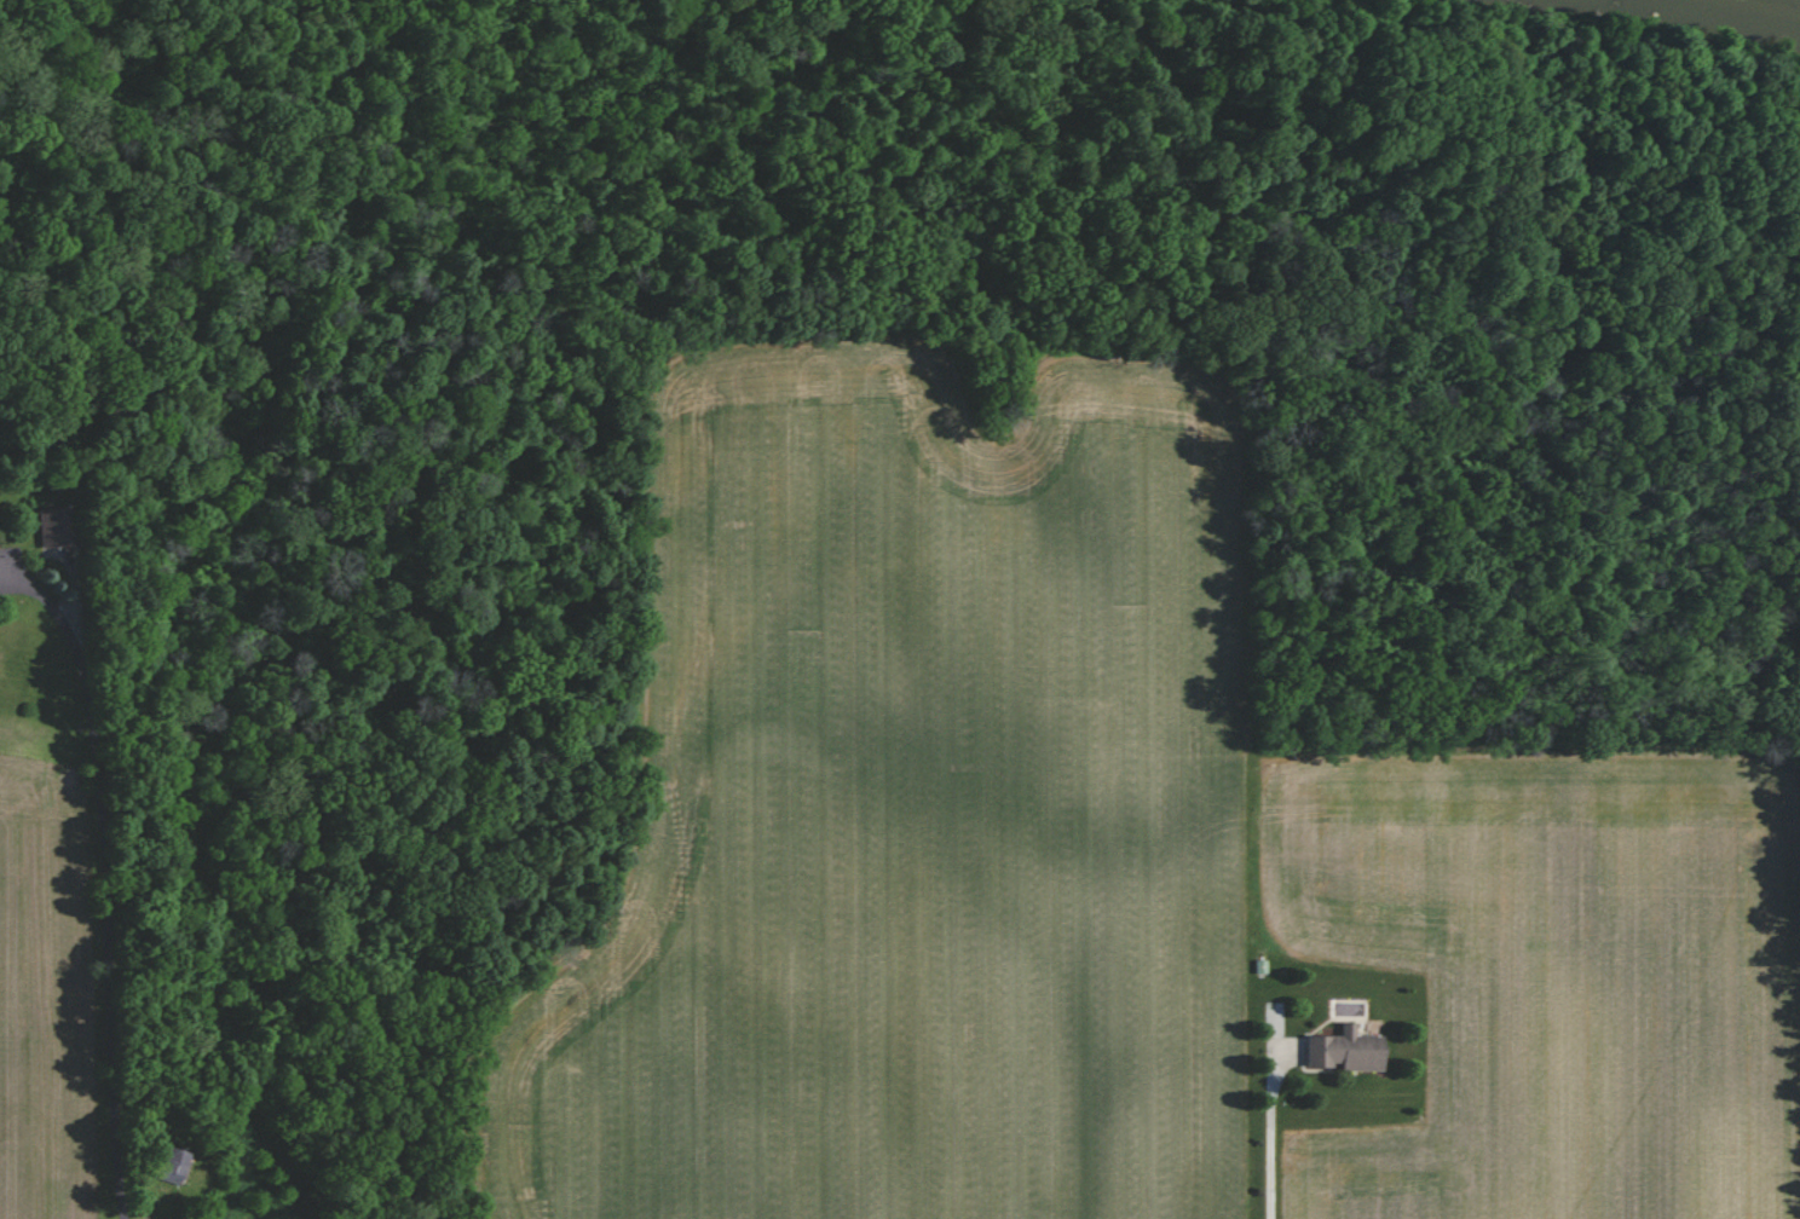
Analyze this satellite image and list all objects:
river: (1655, 18)
building: (58, 527)
road: (112, 930)
building: (1340, 1050)
road: (1267, 1137)
building: (166, 1165)

